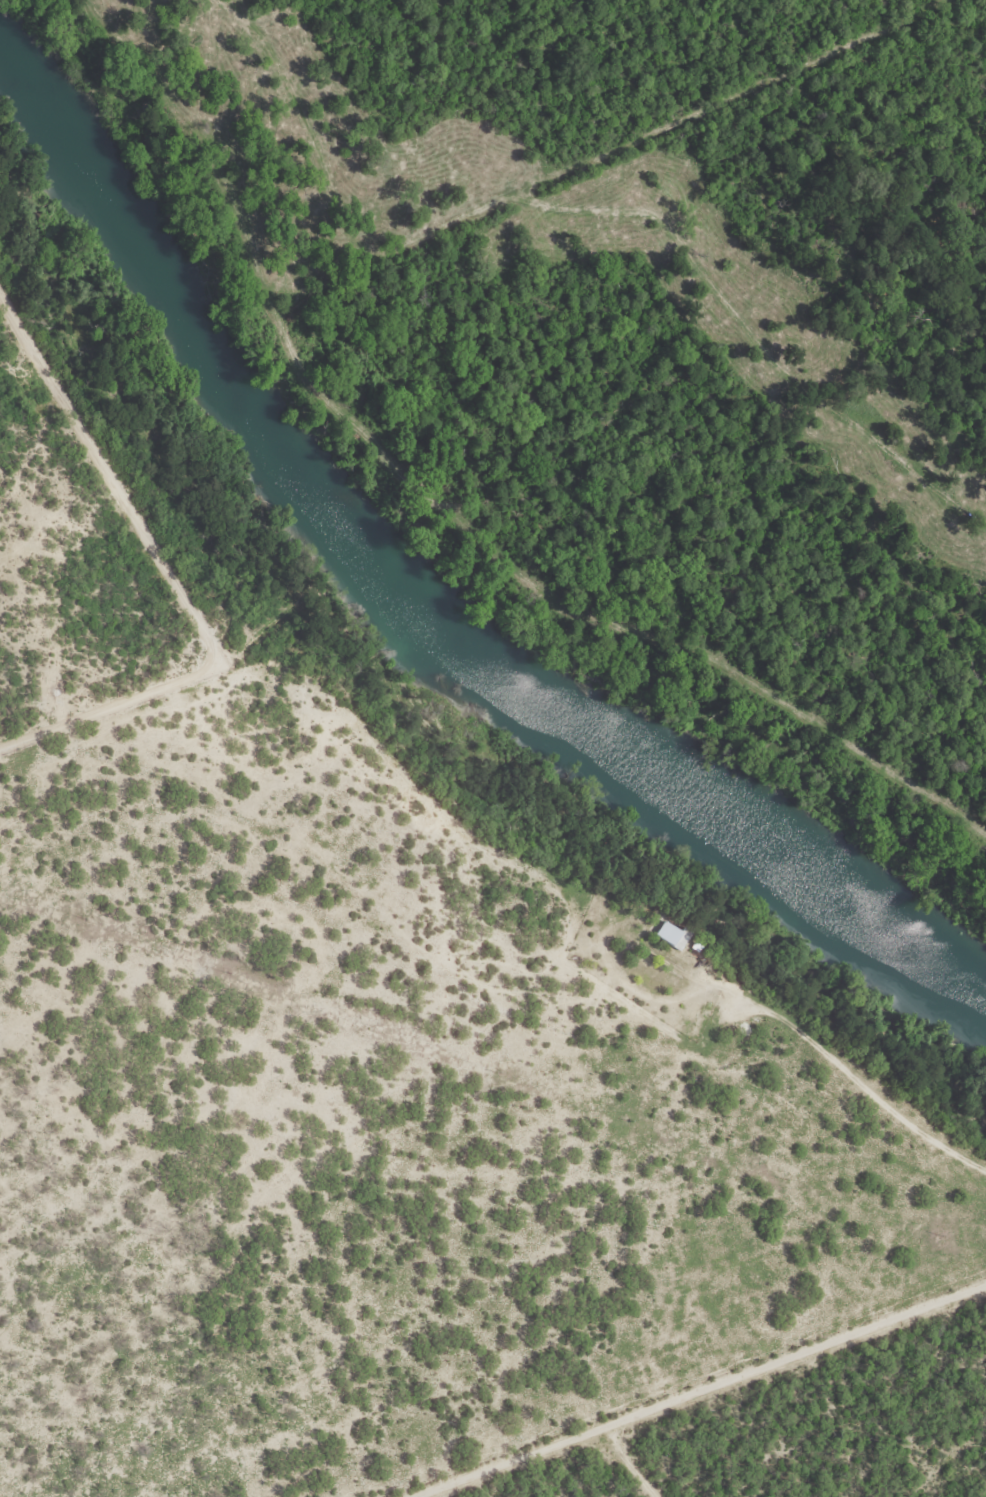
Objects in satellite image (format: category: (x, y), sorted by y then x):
road: (741, 98)
road: (594, 208)
river: (428, 608)
building: (674, 936)
road: (700, 1392)
road: (637, 1463)

